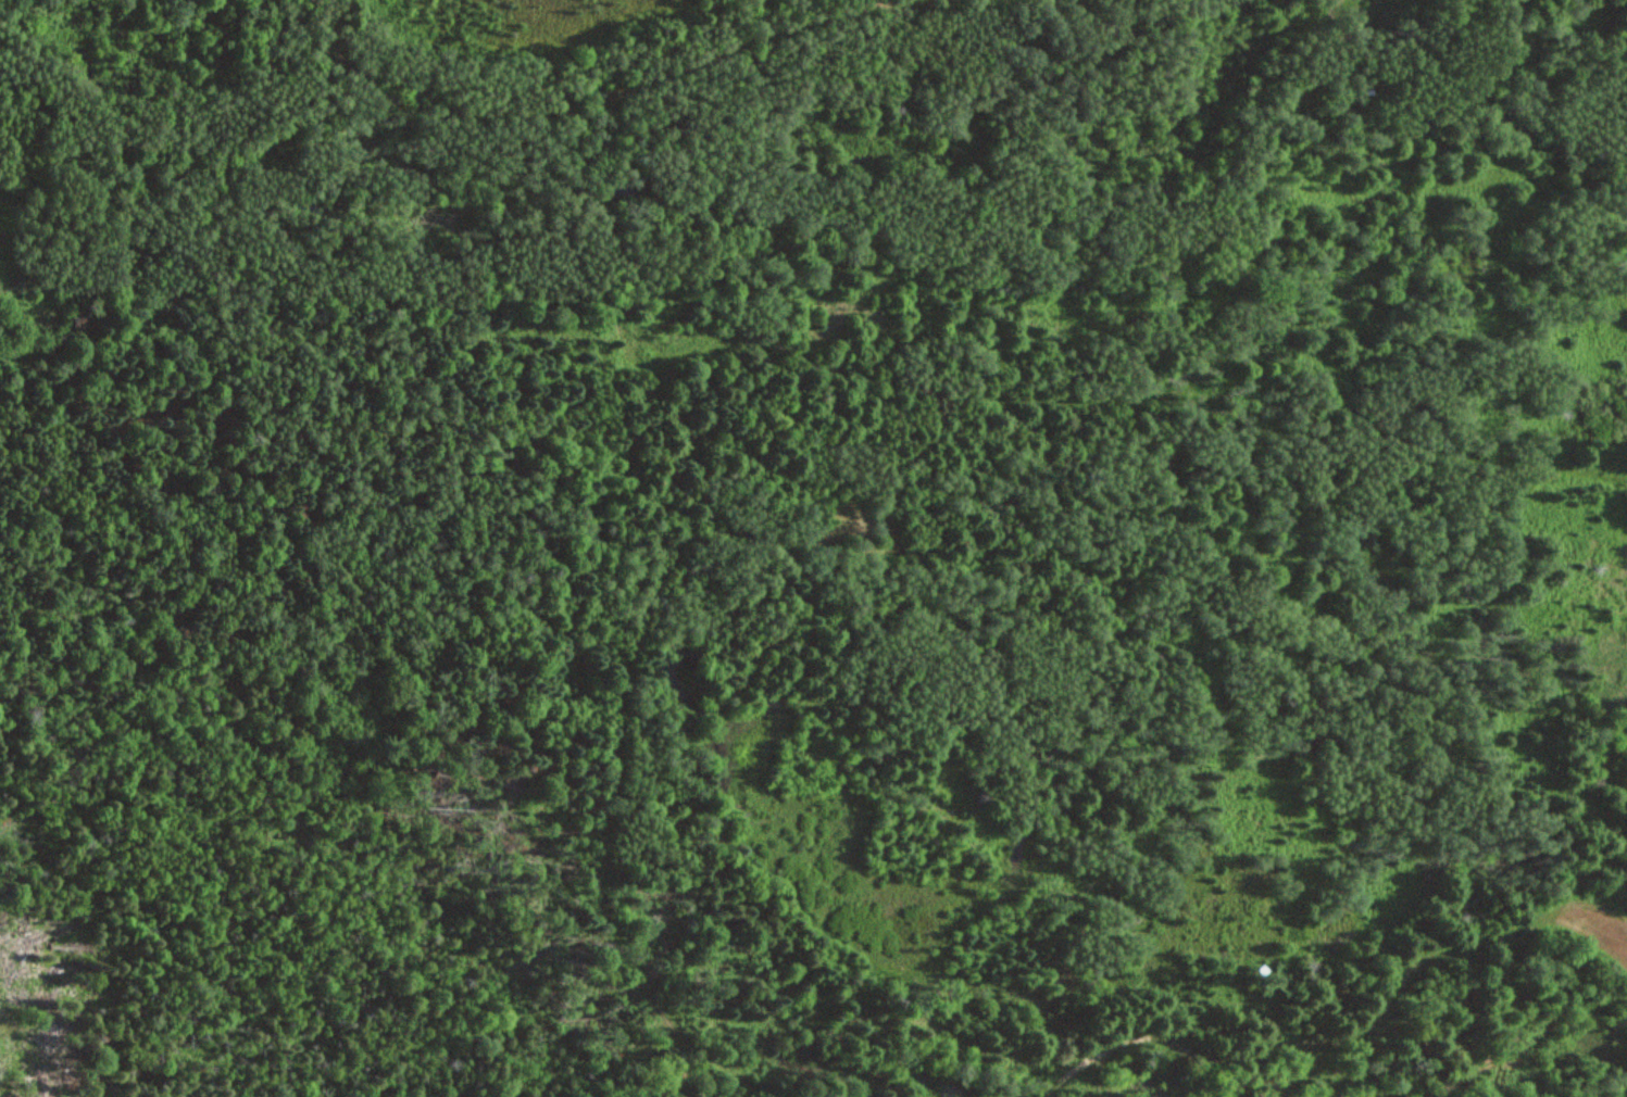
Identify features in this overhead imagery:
road: (588, 104)

